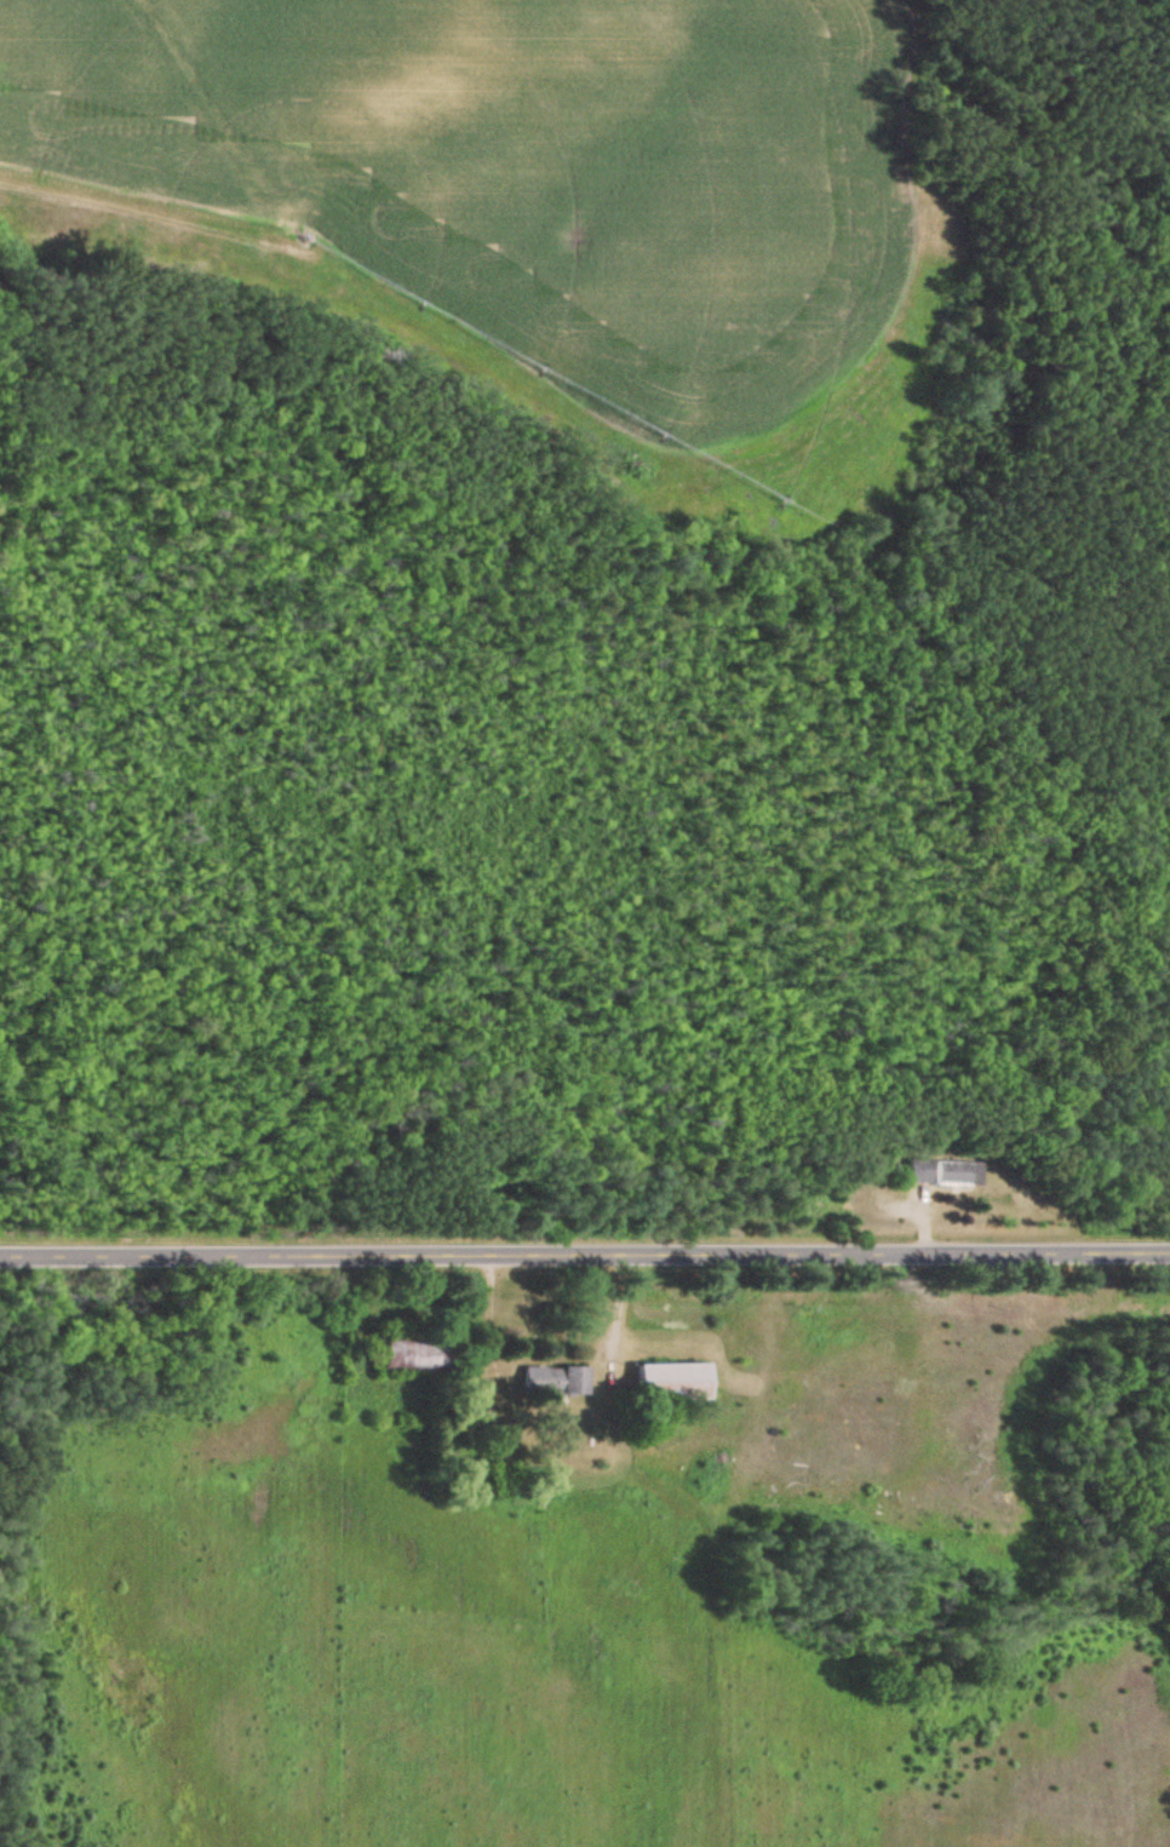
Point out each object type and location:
building: (917, 1171)
building: (957, 1174)
road: (585, 1252)
building: (411, 1353)
building: (551, 1382)
building: (669, 1382)

